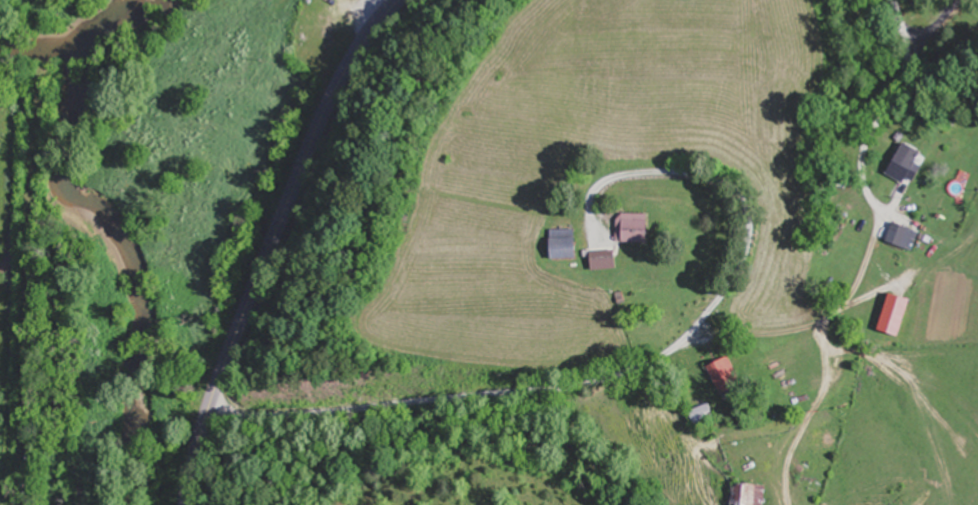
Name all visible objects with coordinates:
river: (86, 41)
building: (907, 163)
building: (638, 227)
building: (903, 235)
road: (270, 242)
building: (569, 243)
building: (898, 317)
road: (689, 339)
building: (728, 375)
building: (705, 414)
building: (752, 494)

